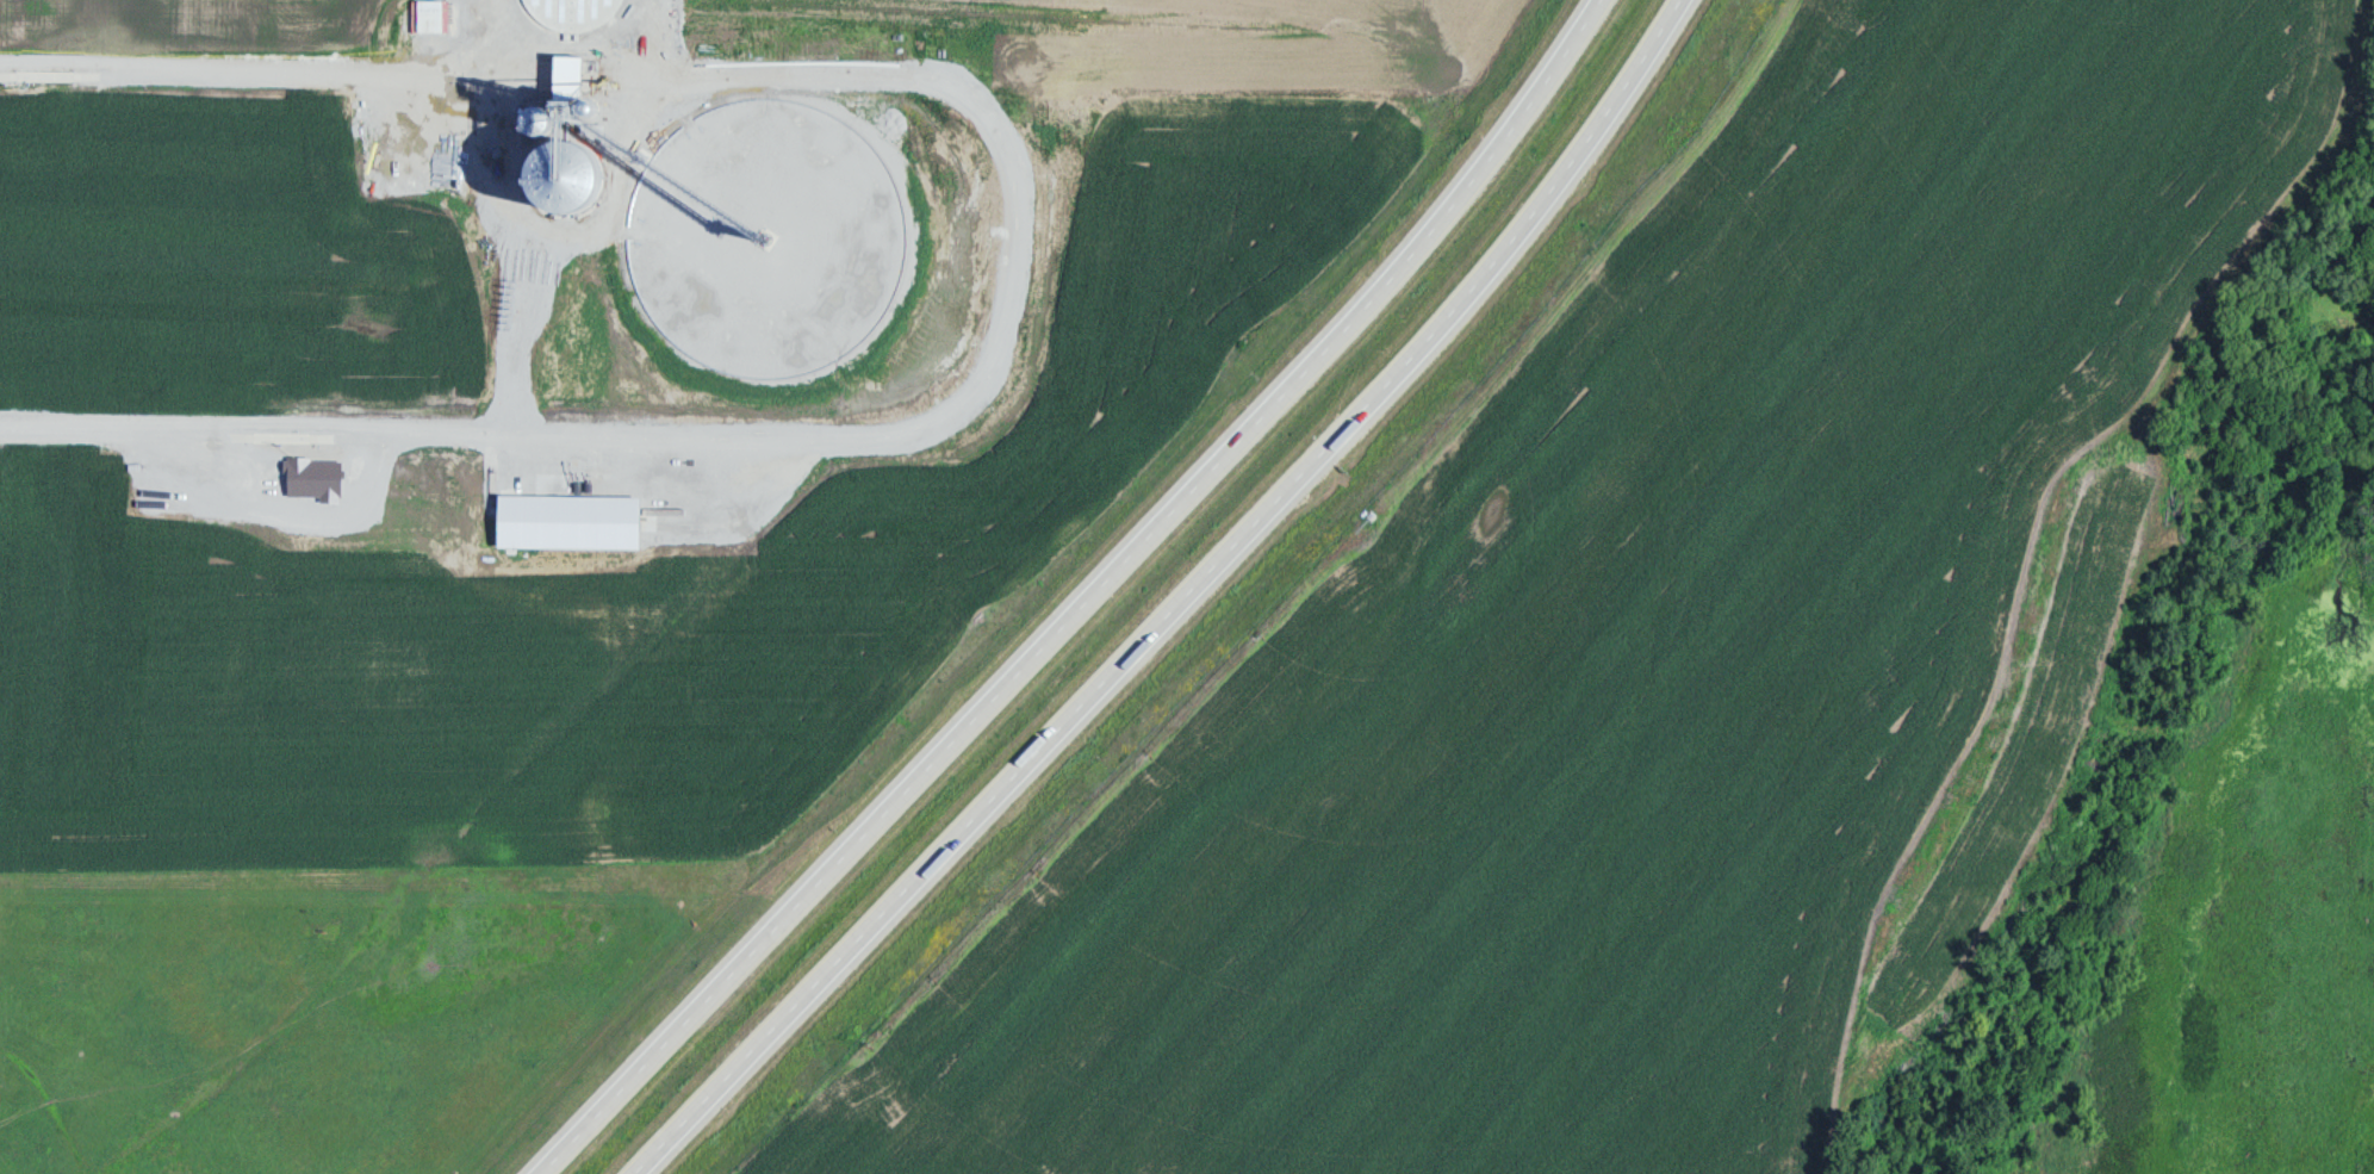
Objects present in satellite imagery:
road: (1019, 240)
road: (1083, 600)
road: (1201, 601)

